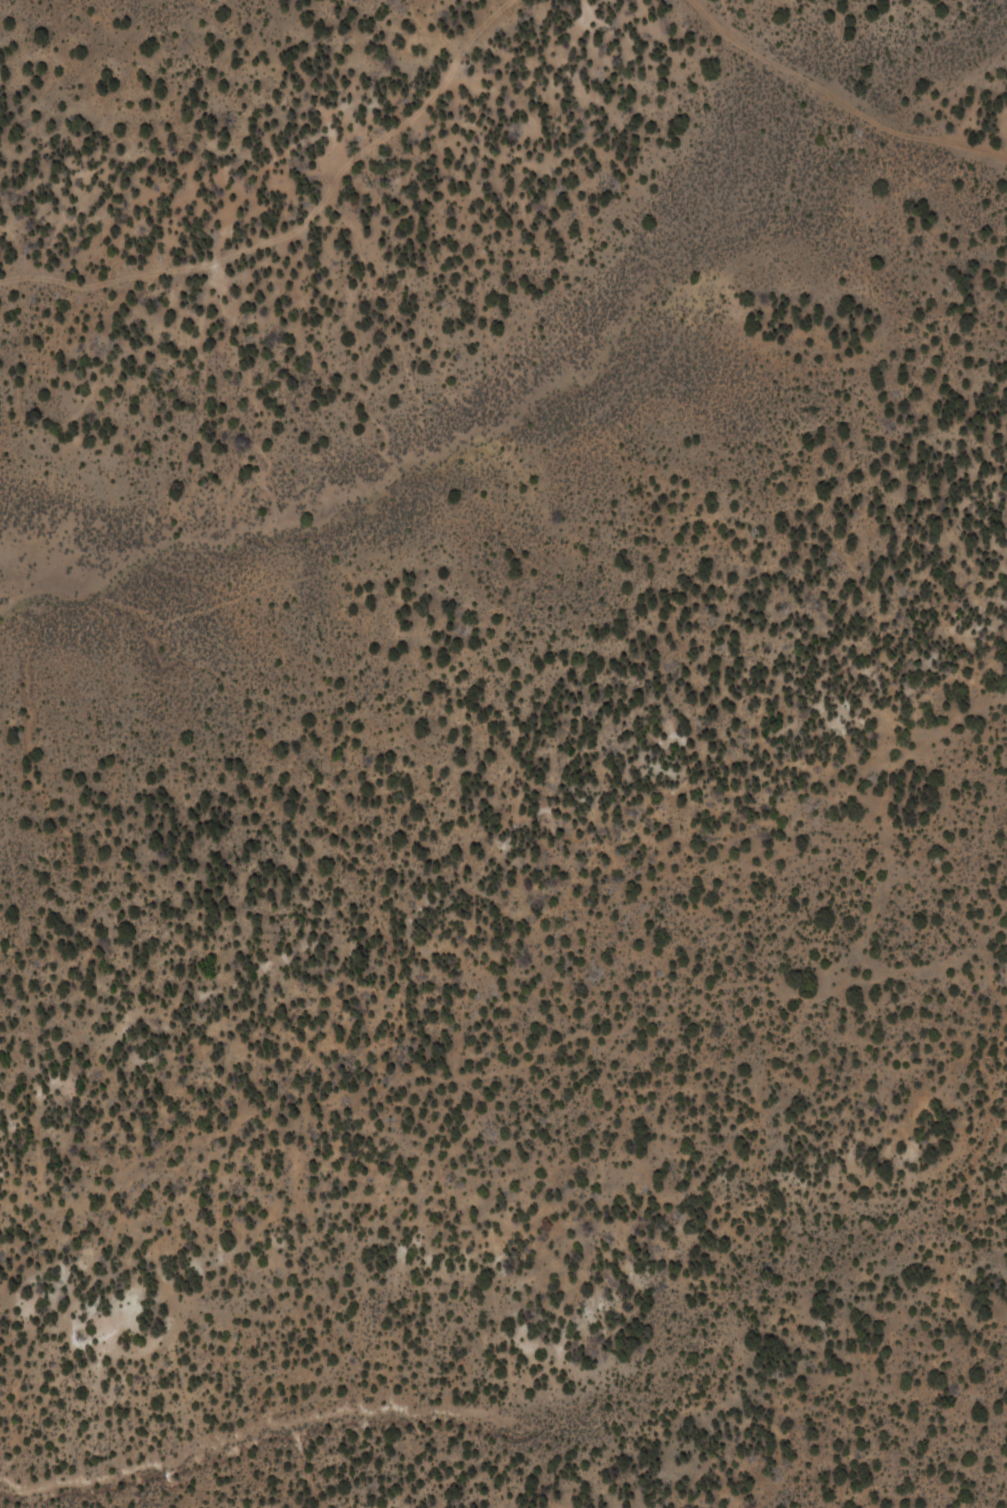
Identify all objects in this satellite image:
road: (836, 100)

